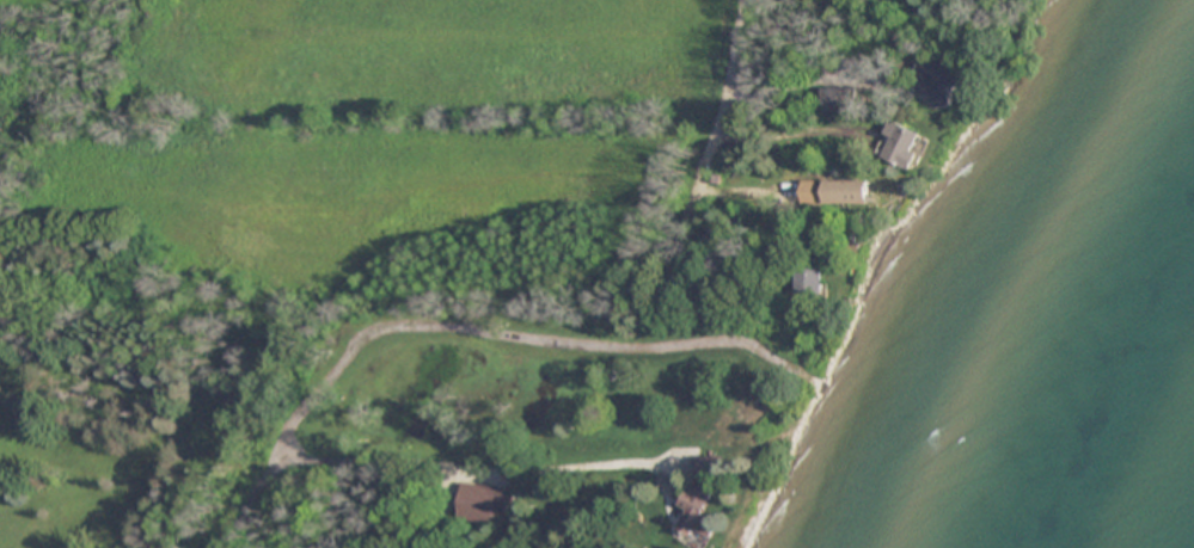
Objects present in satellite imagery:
building: (902, 143)
road: (709, 150)
building: (812, 279)
road: (496, 466)
road: (269, 480)
building: (482, 500)
building: (696, 515)

